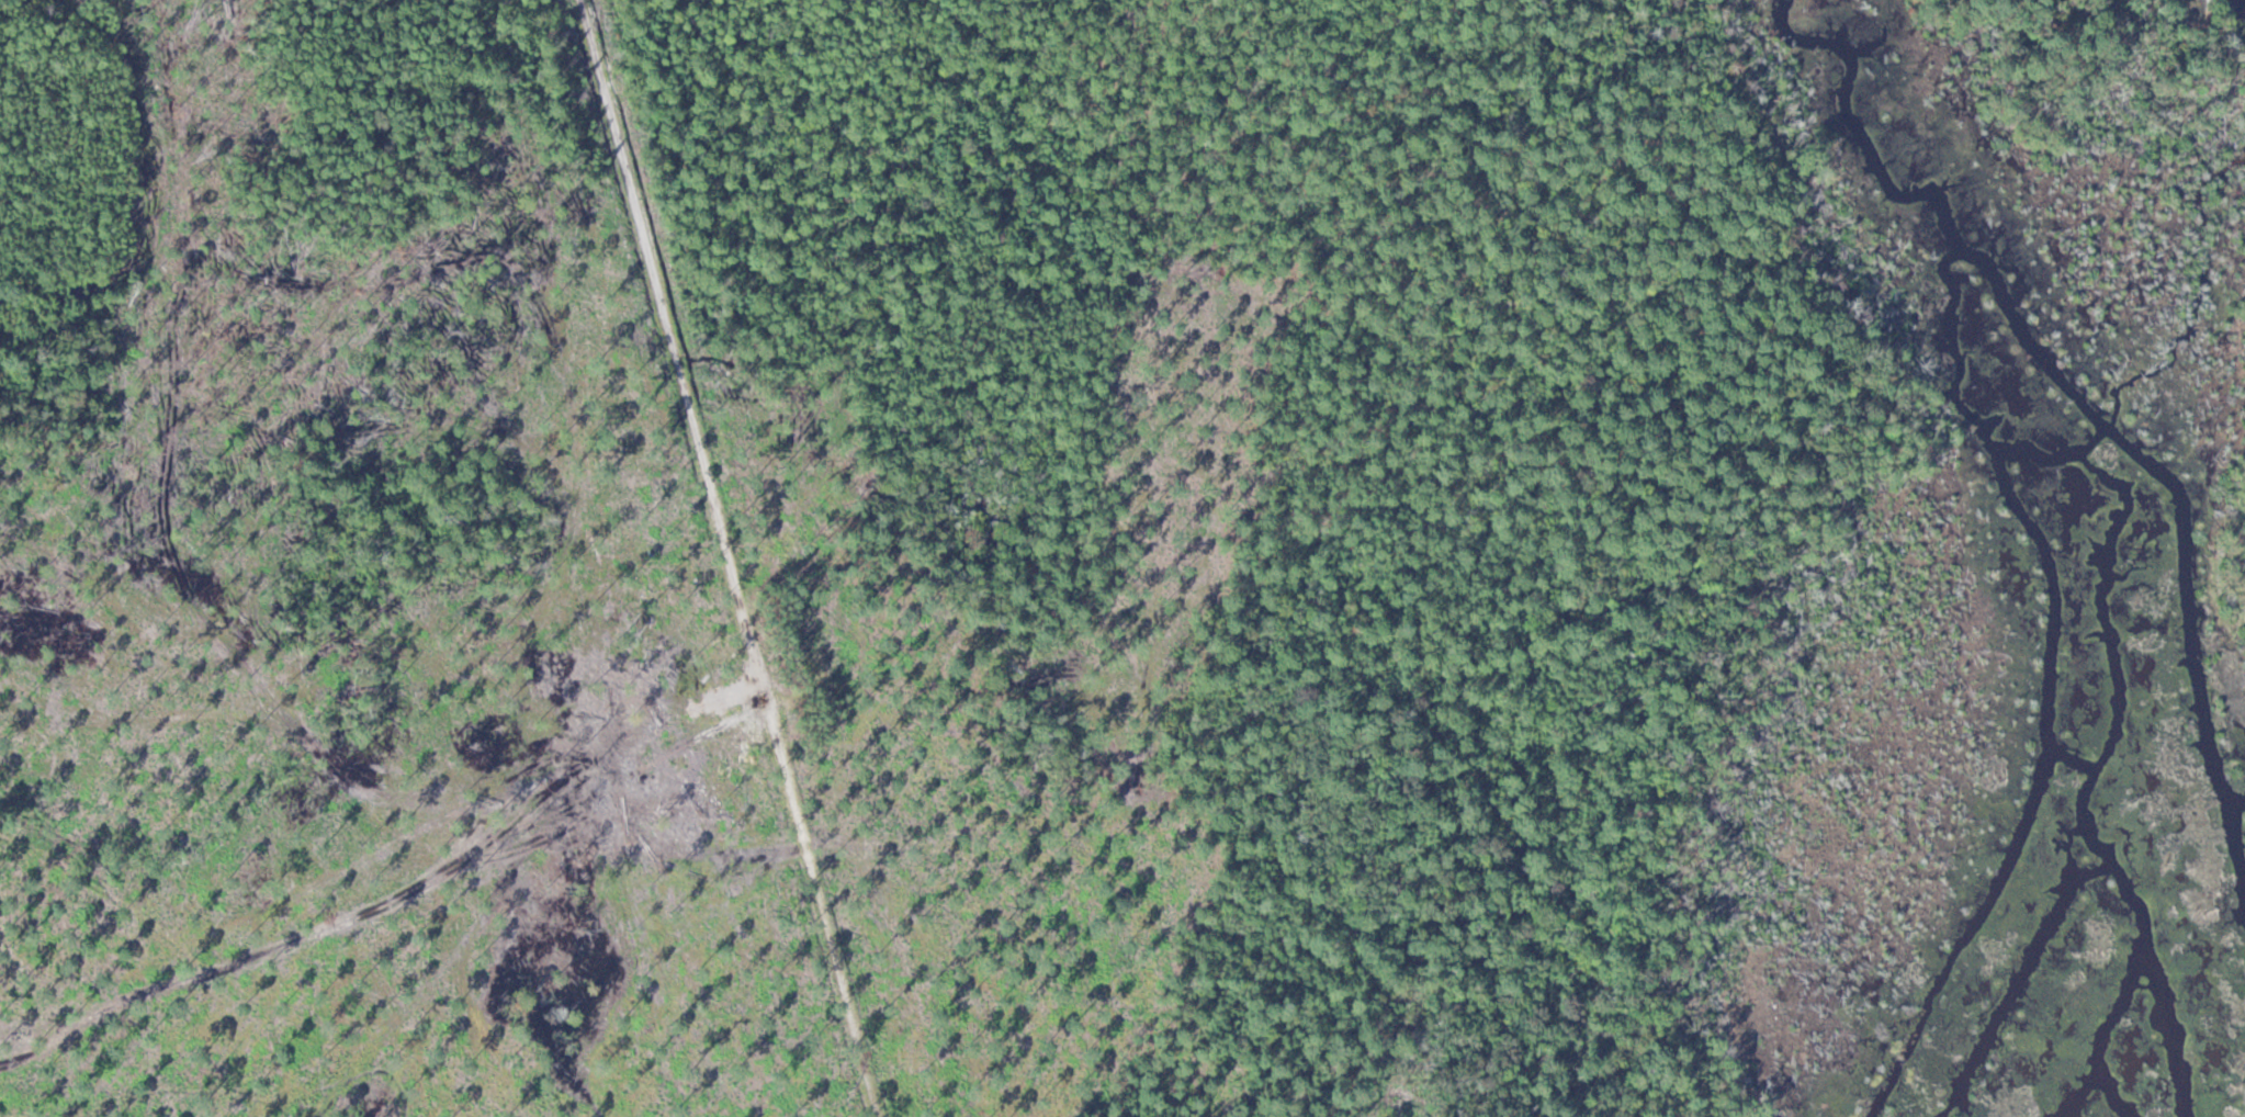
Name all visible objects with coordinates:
road: (766, 558)

